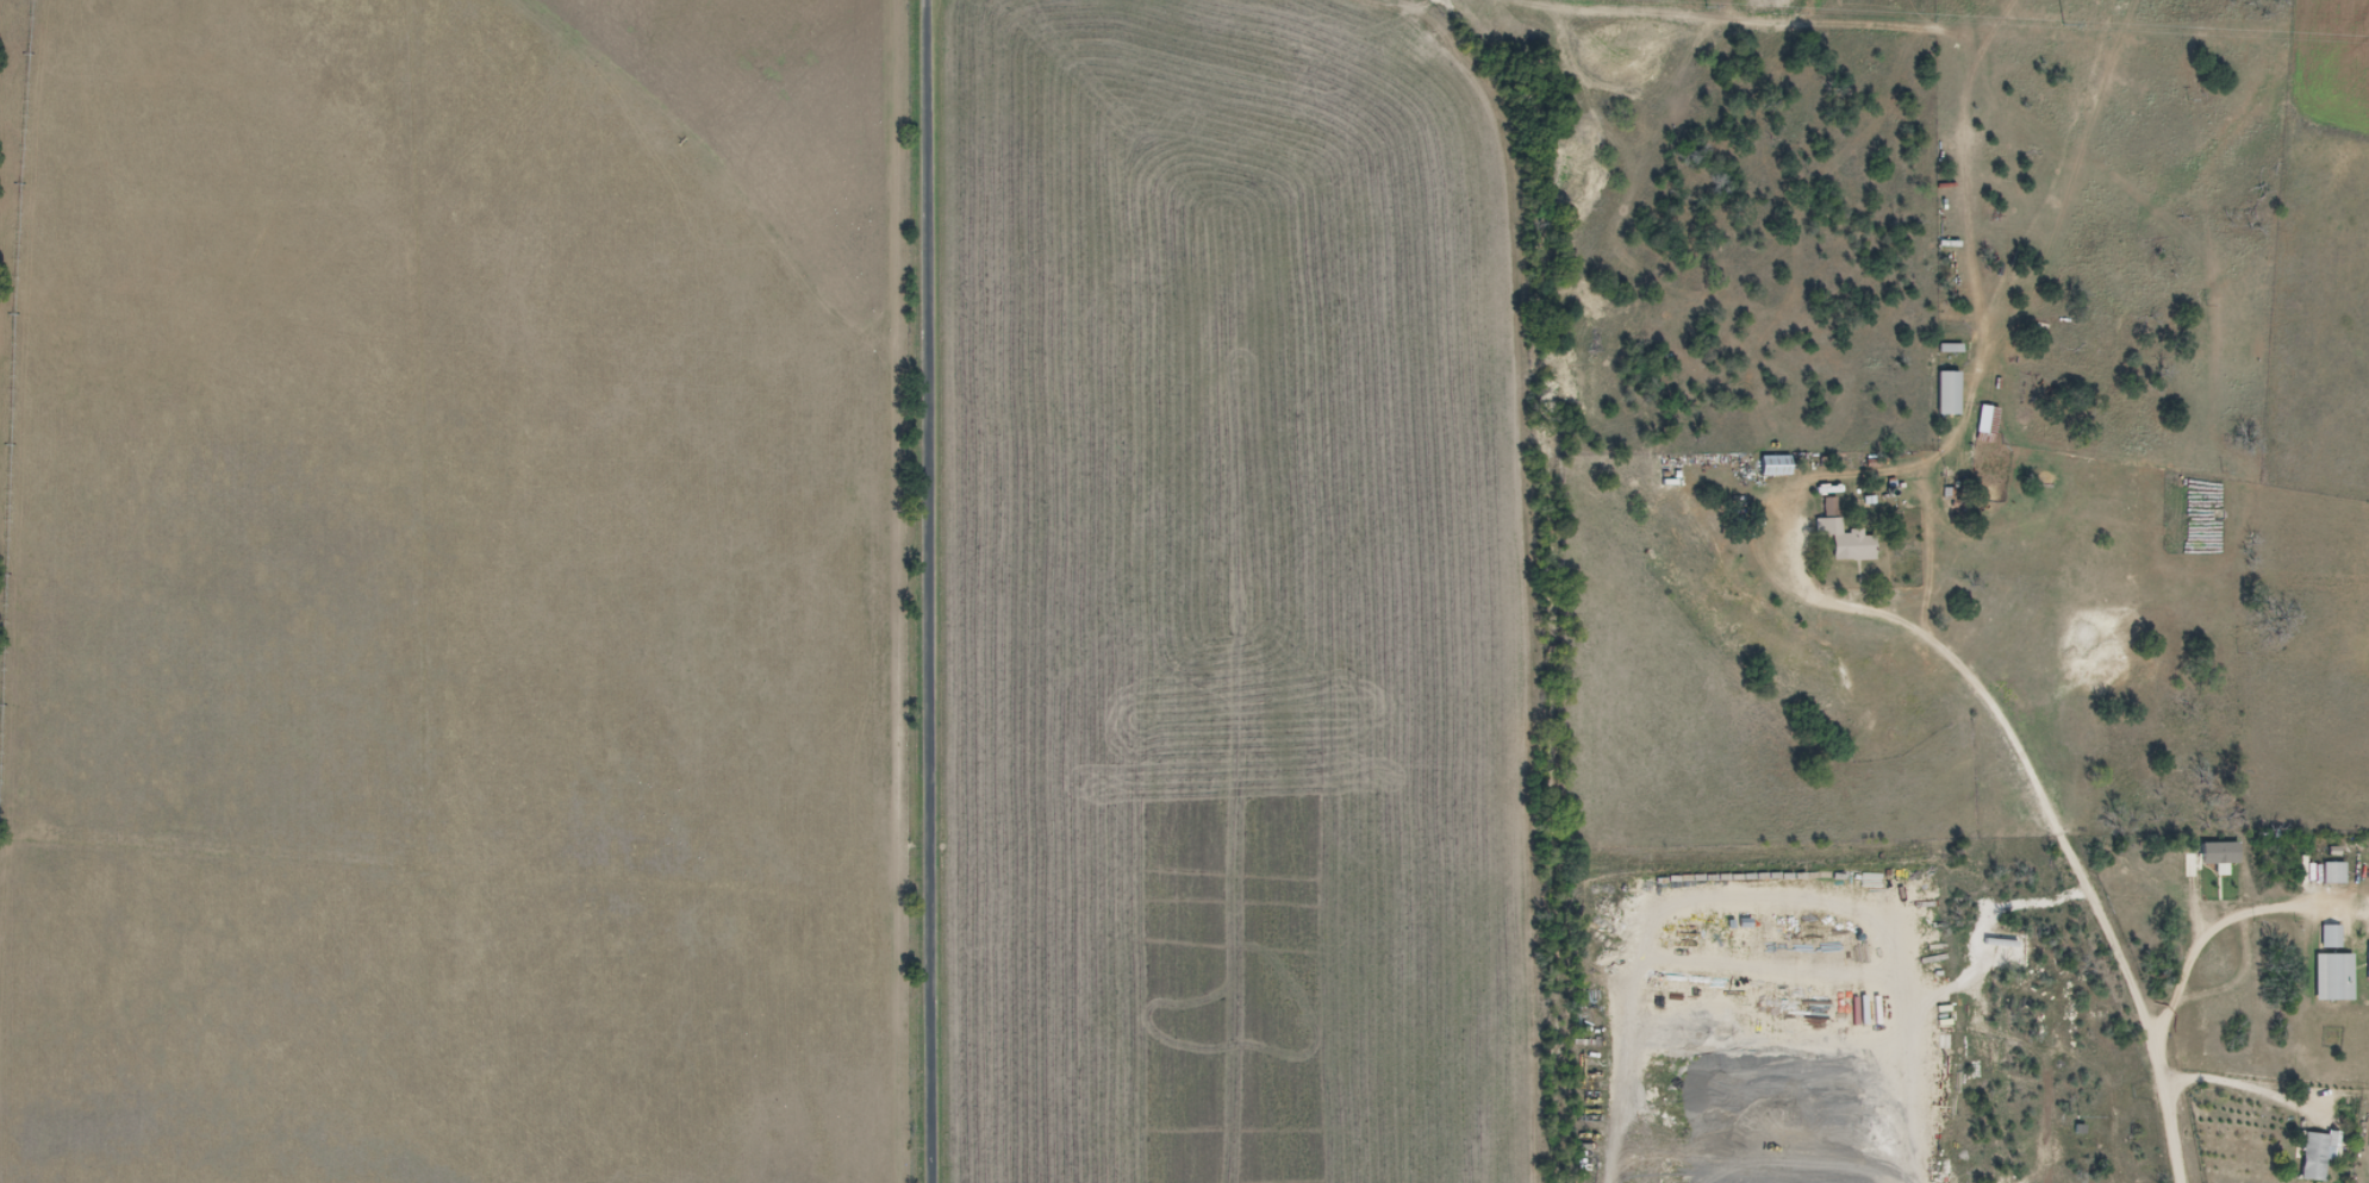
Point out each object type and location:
power tower: (1707, 5)
road: (1385, 8)
road: (933, 11)
road: (1788, 21)
power tower: (2061, 24)
building: (1949, 393)
building: (1985, 424)
building: (1776, 465)
building: (1844, 536)
road: (930, 591)
road: (2050, 814)
building: (2336, 872)
building: (2332, 935)
building: (2336, 976)
road: (2246, 1087)
building: (2318, 1156)

